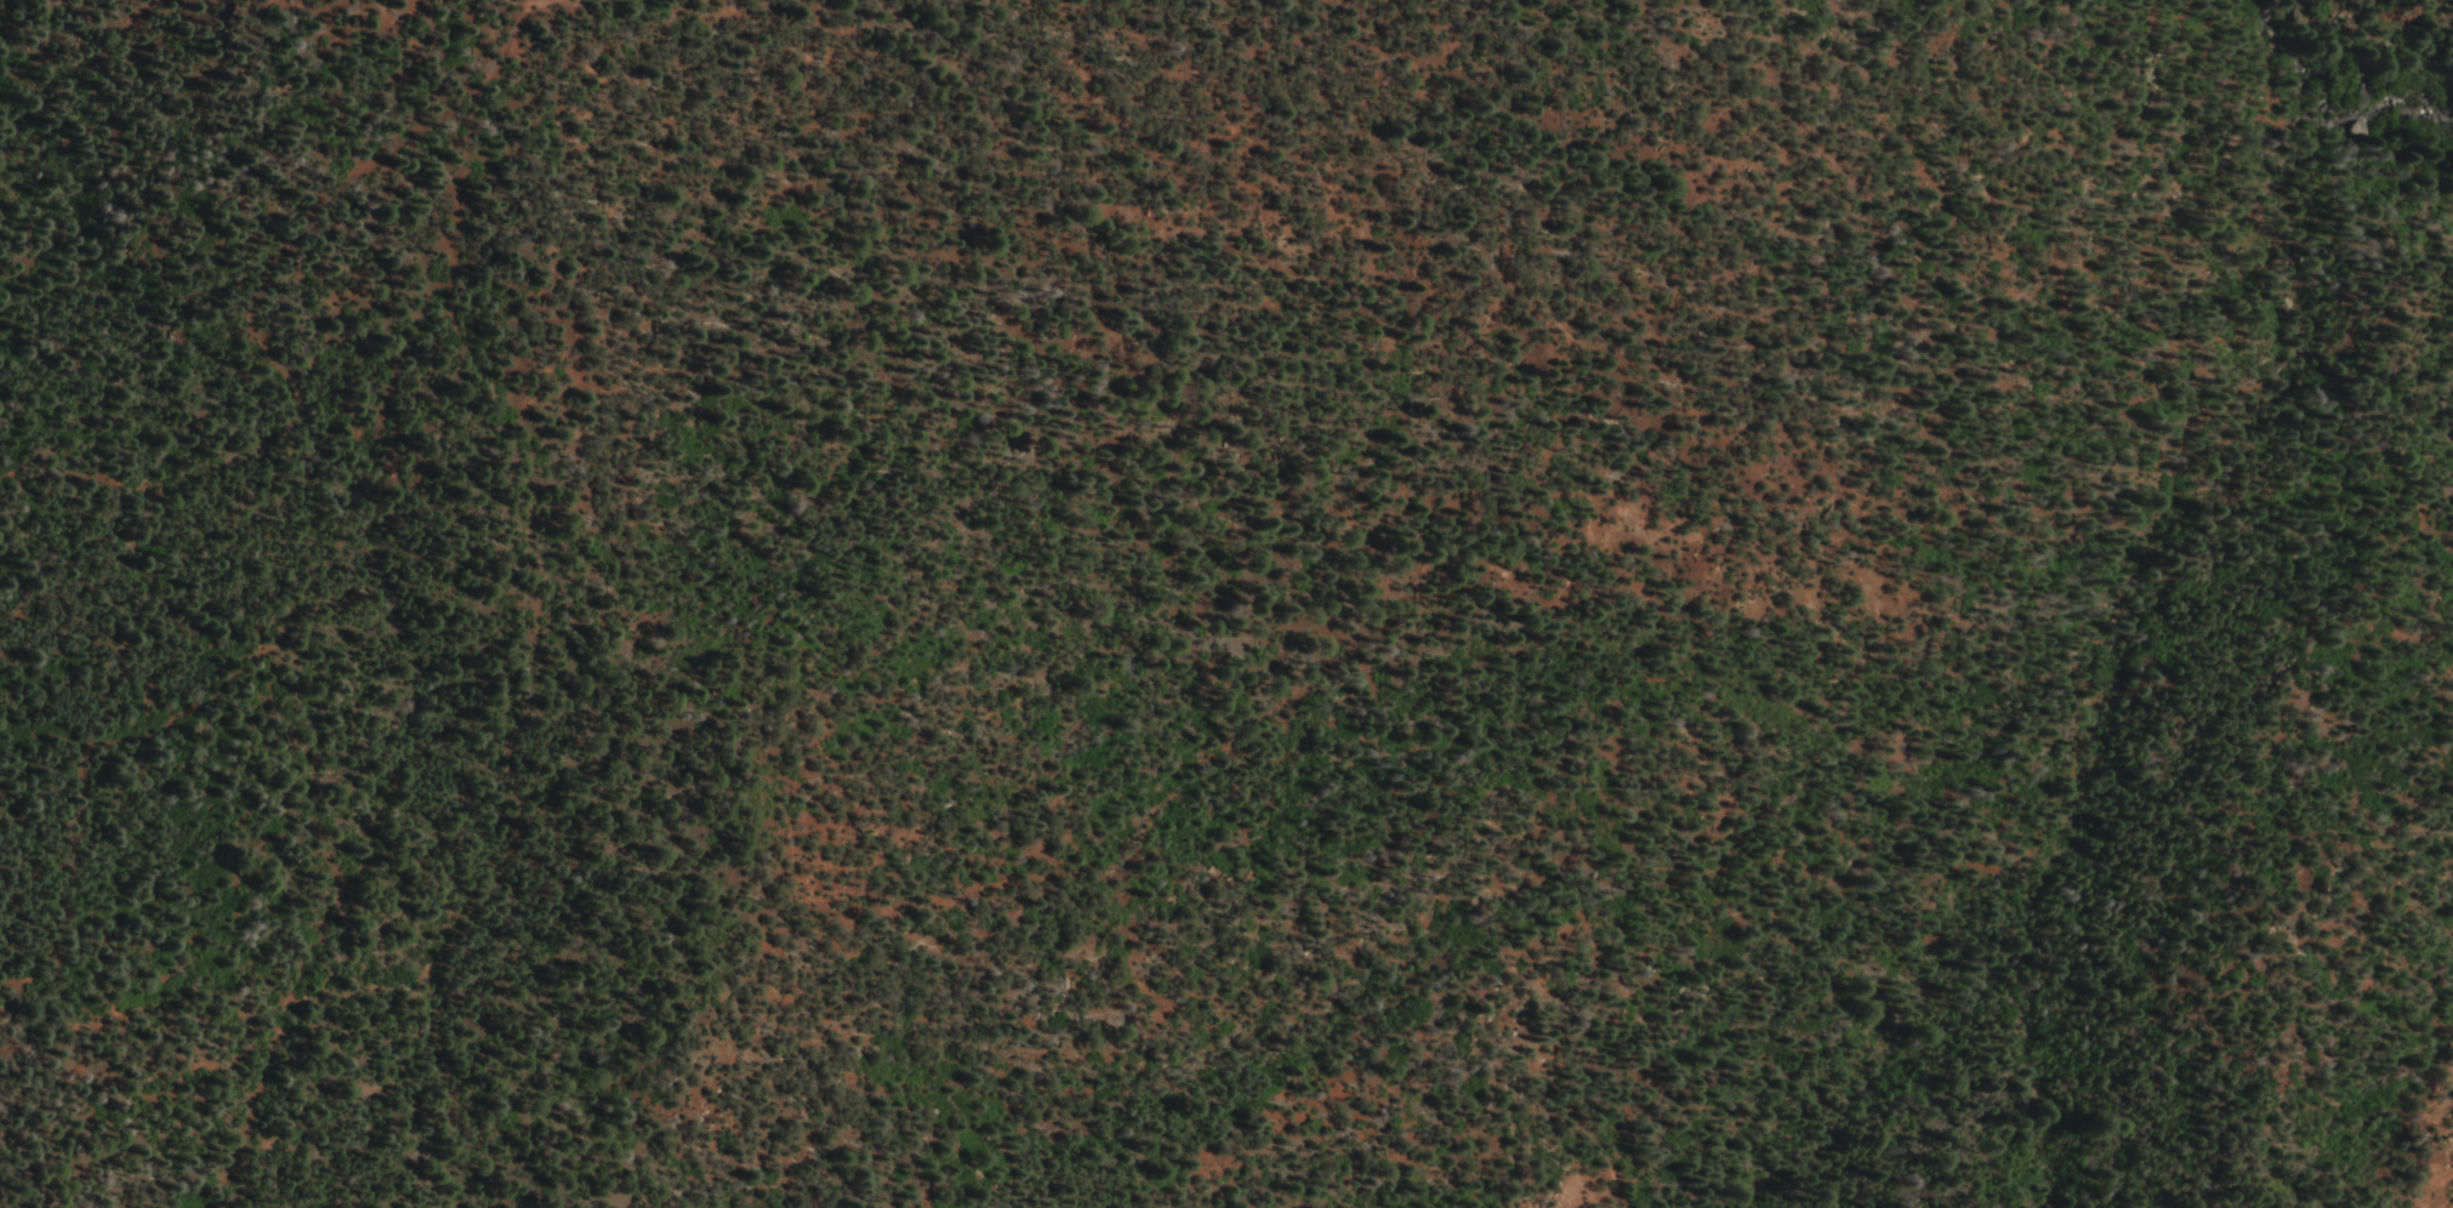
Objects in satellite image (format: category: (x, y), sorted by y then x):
road: (2362, 65)

